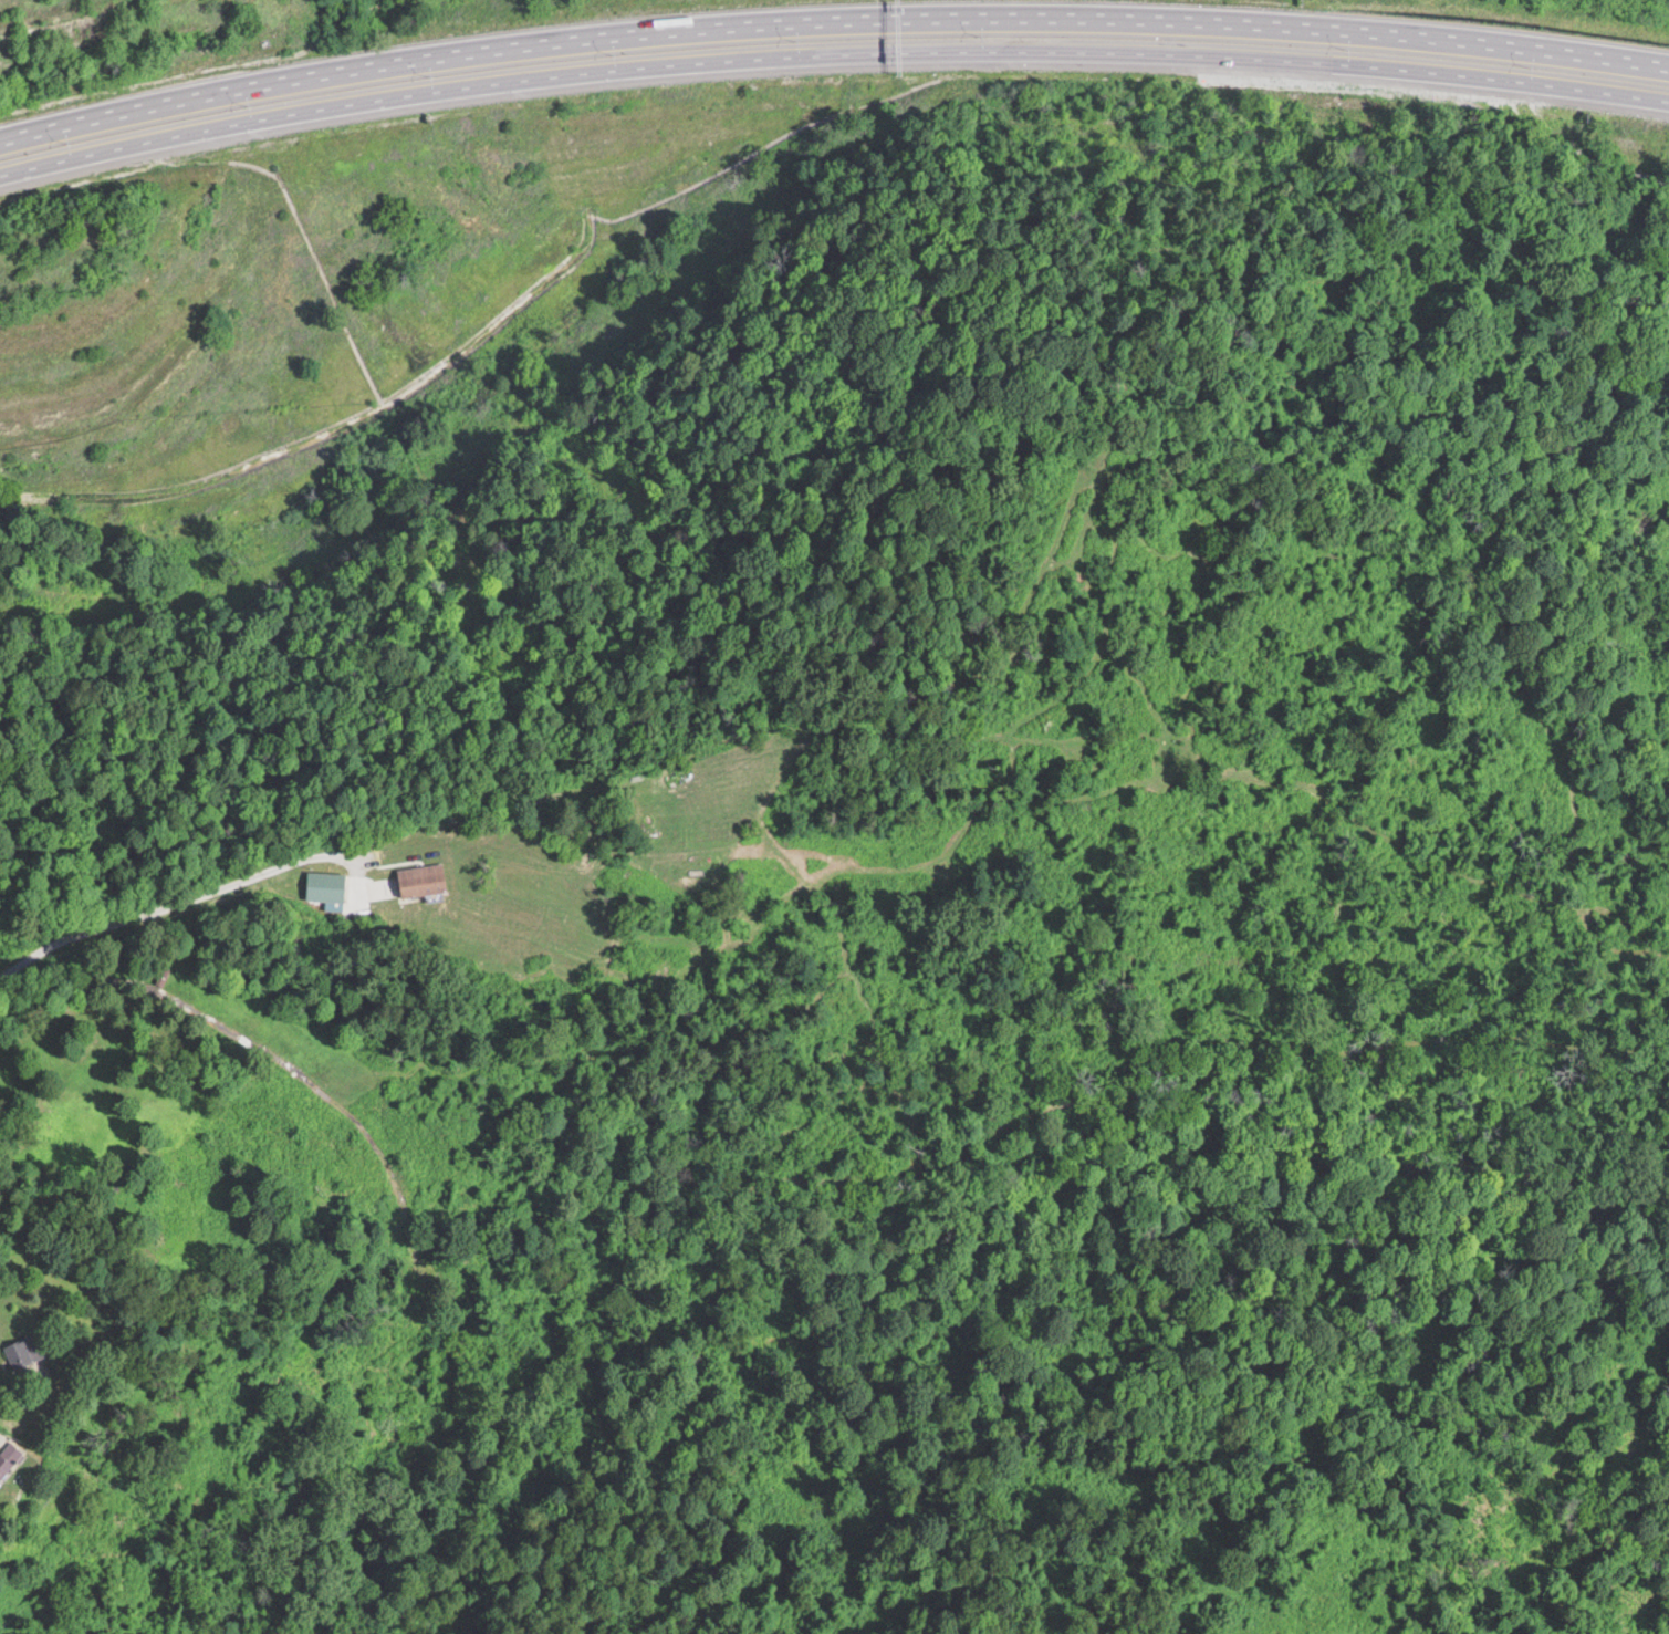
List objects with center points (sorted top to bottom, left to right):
road: (828, 9)
road: (827, 43)
road: (490, 825)
building: (424, 877)
building: (29, 1356)
building: (10, 1458)

